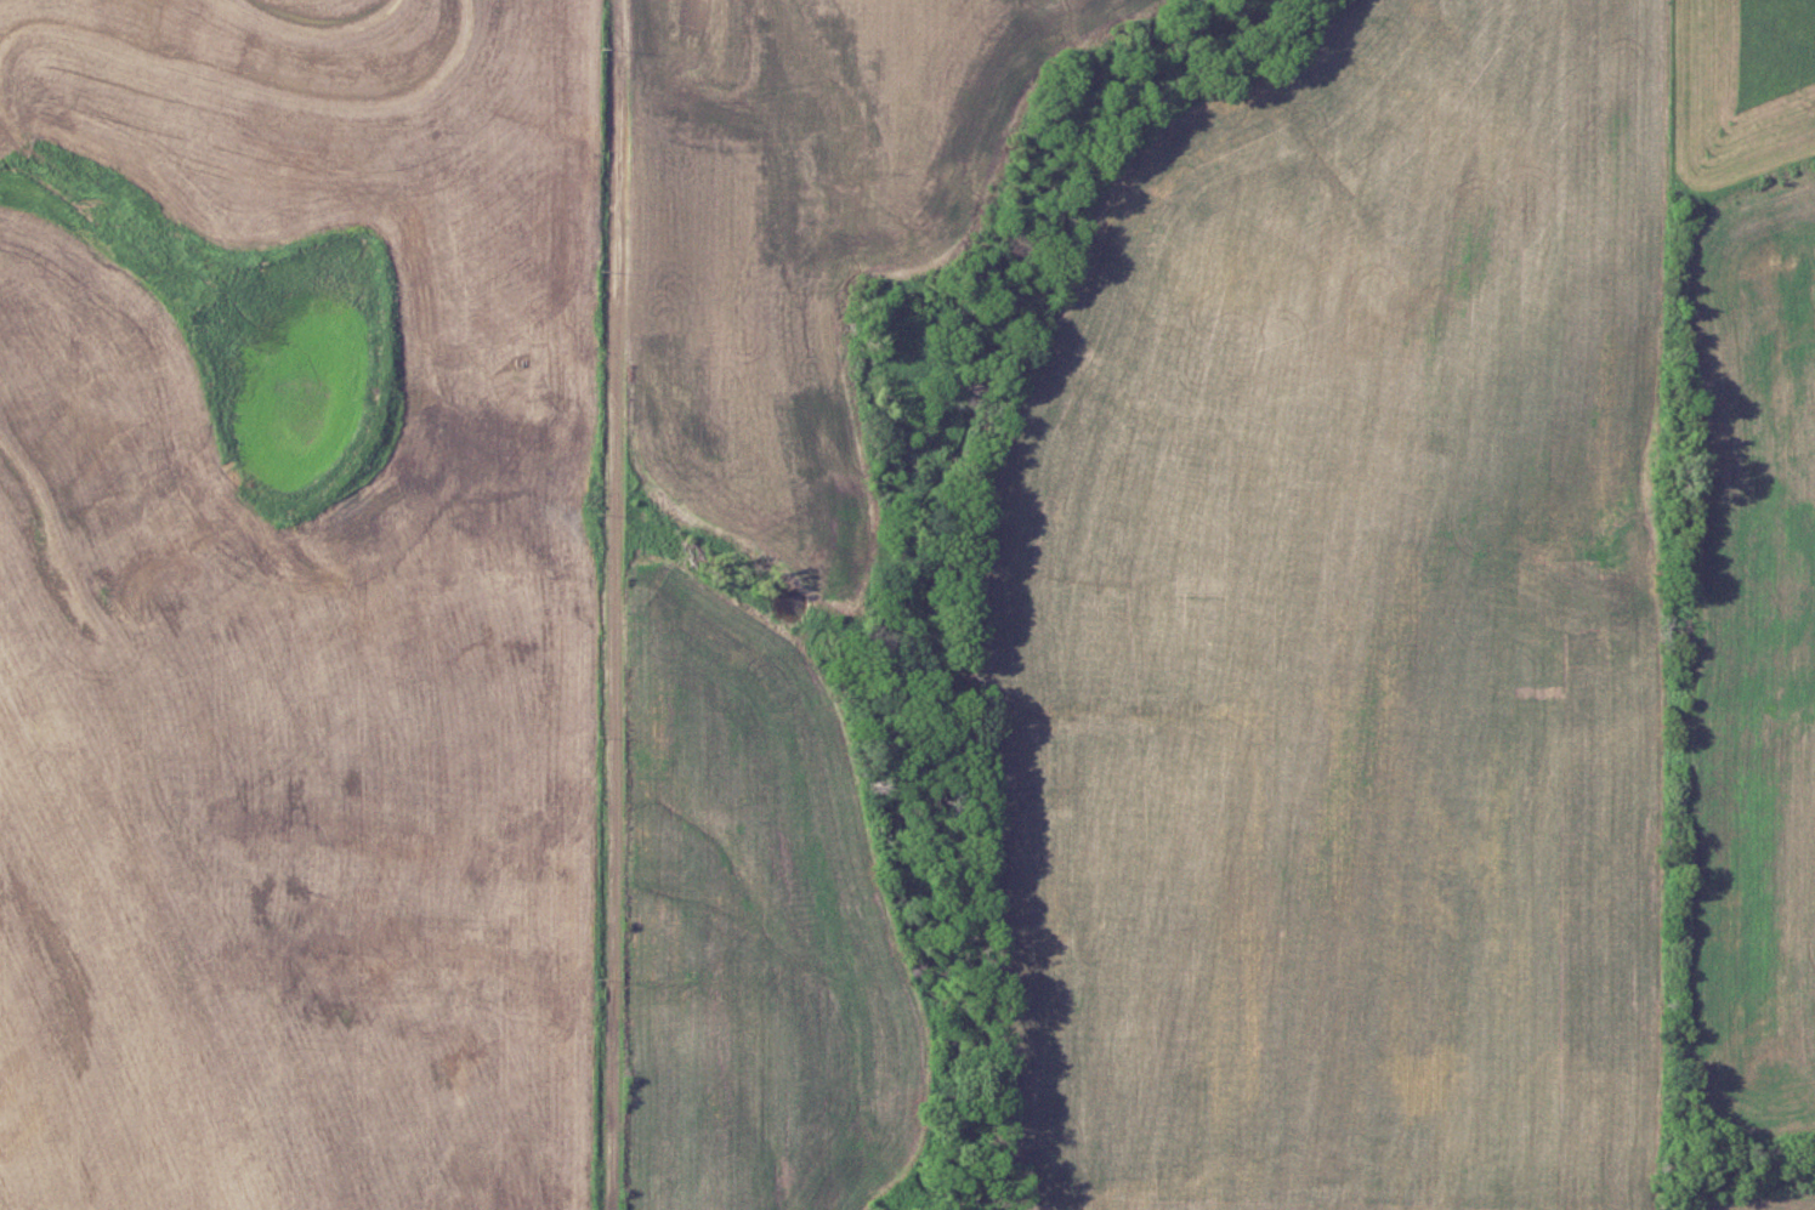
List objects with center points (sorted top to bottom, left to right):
road: (617, 604)

